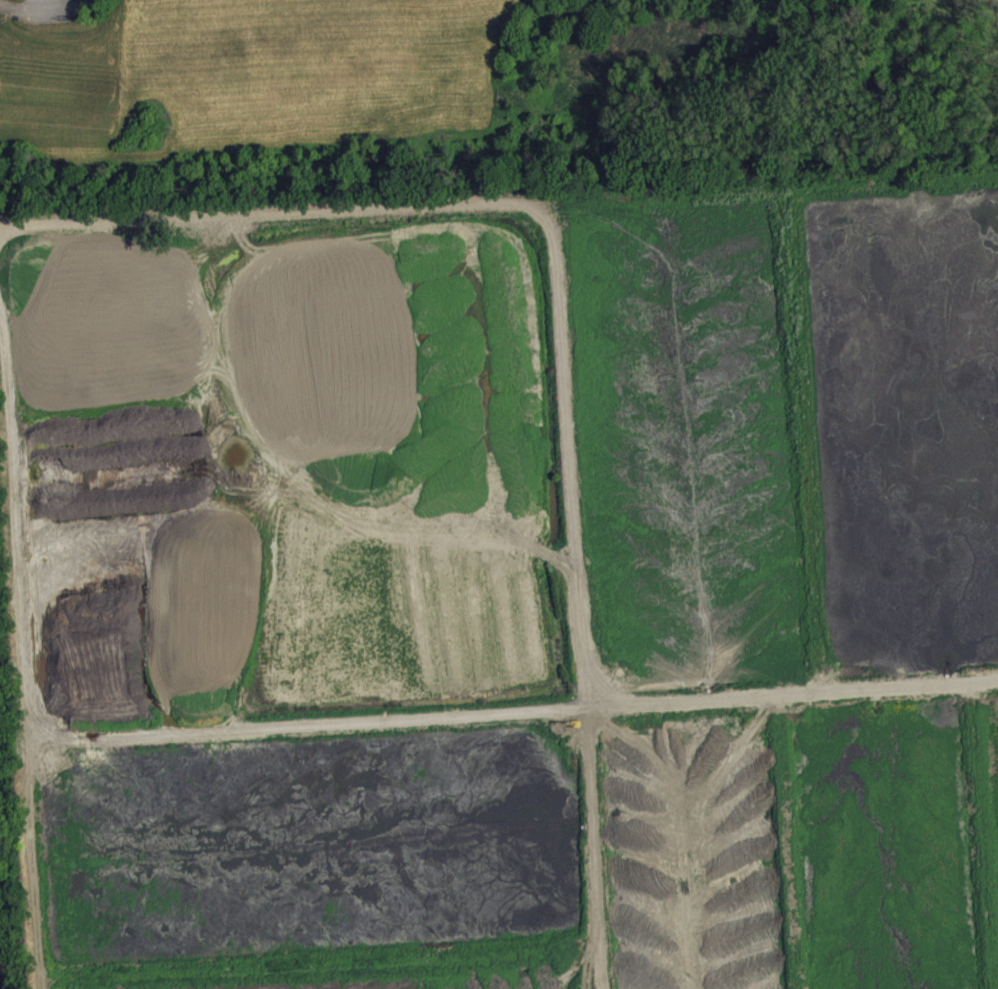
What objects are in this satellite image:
road: (558, 326)
road: (26, 646)
road: (513, 709)

